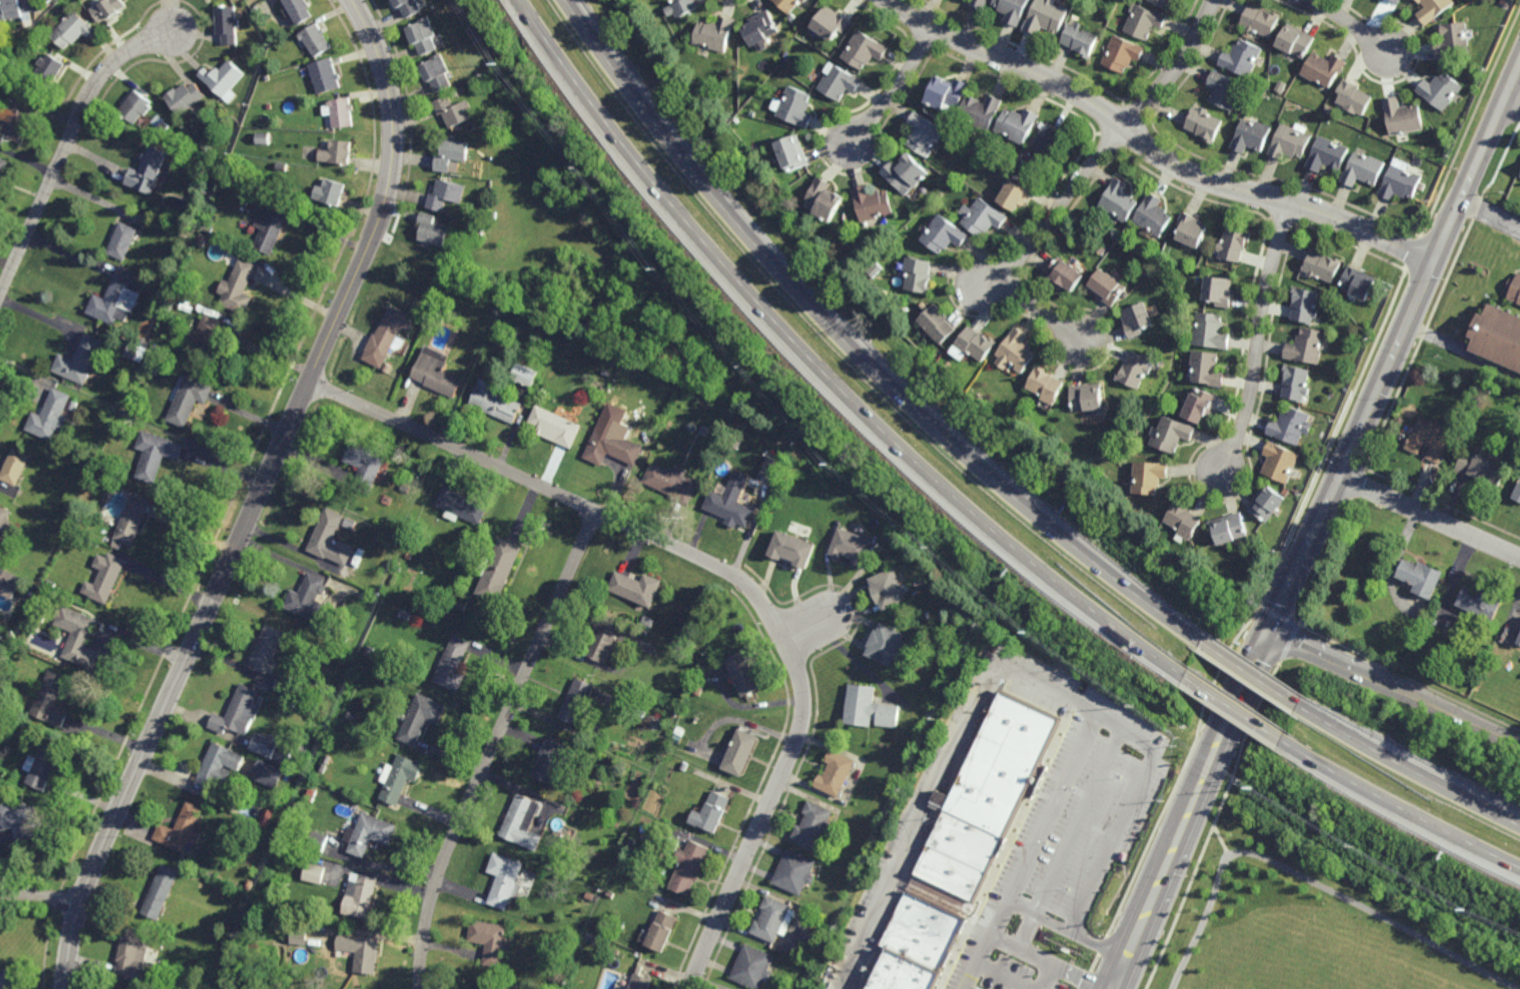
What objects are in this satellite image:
building: (1397, 1)
building: (254, 2)
building: (792, 4)
building: (979, 4)
building: (1163, 4)
building: (408, 7)
building: (682, 7)
building: (19, 8)
building: (1434, 9)
building: (109, 10)
building: (1012, 10)
building: (299, 11)
building: (792, 18)
building: (1046, 18)
building: (1261, 22)
road: (1350, 22)
building: (1145, 23)
building: (831, 24)
building: (228, 25)
building: (73, 30)
building: (761, 30)
building: (715, 34)
building: (424, 37)
building: (480, 40)
building: (316, 41)
building: (1079, 41)
building: (1453, 41)
building: (1296, 42)
building: (866, 51)
building: (1123, 55)
building: (1243, 59)
building: (786, 64)
power tower: (502, 67)
building: (1324, 70)
building: (49, 71)
building: (437, 74)
building: (326, 77)
building: (225, 79)
building: (840, 83)
building: (1283, 88)
road: (897, 89)
building: (1225, 91)
building: (1441, 91)
building: (455, 93)
building: (947, 95)
building: (1354, 99)
building: (185, 100)
road: (1511, 103)
building: (271, 107)
building: (136, 108)
building: (796, 108)
building: (1331, 111)
building: (453, 112)
building: (980, 113)
building: (342, 114)
building: (752, 115)
building: (1403, 119)
building: (15, 120)
building: (738, 121)
building: (1205, 125)
building: (1017, 127)
building: (164, 128)
building: (925, 135)
building: (1253, 138)
building: (266, 140)
road: (65, 144)
building: (1290, 144)
road: (1106, 145)
road: (1151, 150)
building: (974, 153)
building: (758, 154)
building: (338, 155)
building: (794, 155)
building: (451, 156)
building: (1043, 156)
building: (1328, 157)
building: (3, 167)
building: (151, 170)
building: (1363, 171)
building: (908, 175)
building: (1400, 181)
building: (925, 189)
building: (333, 190)
building: (1016, 192)
building: (446, 193)
building: (826, 198)
building: (1119, 200)
building: (874, 205)
building: (982, 215)
building: (1154, 215)
building: (166, 218)
road: (1488, 218)
building: (273, 226)
building: (1192, 228)
building: (432, 229)
building: (479, 231)
building: (945, 232)
building: (190, 233)
building: (1126, 235)
building: (124, 239)
building: (1234, 243)
building: (1101, 249)
building: (1321, 265)
building: (1149, 266)
building: (877, 269)
power tower: (663, 270)
building: (920, 273)
building: (1064, 273)
building: (1358, 281)
building: (240, 286)
building: (1106, 286)
building: (1515, 288)
building: (1219, 290)
building: (115, 299)
building: (1304, 304)
building: (206, 307)
road: (1035, 309)
building: (485, 311)
building: (1137, 318)
building: (937, 322)
building: (1211, 330)
building: (1499, 334)
road: (1259, 335)
building: (386, 337)
building: (209, 341)
building: (973, 343)
road: (1396, 344)
building: (1307, 345)
road: (854, 348)
building: (536, 350)
building: (1016, 350)
road: (1462, 352)
building: (82, 359)
building: (152, 365)
building: (386, 367)
road: (821, 367)
building: (1207, 368)
building: (1134, 369)
building: (436, 372)
building: (607, 373)
building: (525, 374)
building: (1296, 383)
building: (1045, 384)
building: (1471, 393)
building: (1087, 396)
building: (978, 397)
building: (189, 399)
building: (495, 401)
building: (1200, 404)
building: (73, 406)
building: (52, 416)
building: (557, 425)
building: (1291, 425)
building: (119, 426)
building: (1172, 434)
building: (1430, 438)
building: (613, 447)
building: (156, 455)
building: (1280, 462)
building: (365, 465)
building: (1483, 465)
building: (16, 466)
power tower: (835, 466)
building: (771, 468)
building: (342, 476)
building: (1149, 476)
building: (672, 482)
building: (406, 489)
building: (1517, 494)
road: (257, 496)
building: (732, 502)
building: (1267, 503)
building: (462, 506)
road: (1431, 517)
building: (1184, 519)
building: (134, 520)
building: (6, 522)
building: (1230, 528)
building: (330, 539)
building: (118, 545)
building: (852, 546)
building: (414, 548)
building: (793, 549)
road: (1393, 561)
building: (500, 570)
road: (730, 571)
building: (106, 577)
building: (1421, 577)
building: (9, 583)
building: (52, 584)
building: (637, 588)
building: (889, 589)
building: (312, 602)
building: (1480, 603)
building: (39, 614)
road: (1277, 617)
building: (648, 621)
road: (804, 628)
traffic signals: (1273, 630)
building: (646, 632)
power tower: (1031, 634)
building: (79, 637)
building: (605, 641)
road: (1288, 642)
building: (1519, 642)
building: (886, 645)
building: (1, 647)
building: (1411, 647)
building: (266, 649)
building: (370, 651)
building: (453, 665)
road: (1250, 672)
building: (744, 674)
road: (1025, 676)
building: (368, 682)
building: (282, 684)
road: (1396, 687)
building: (52, 701)
building: (579, 701)
road: (1232, 706)
building: (871, 709)
building: (237, 713)
building: (419, 718)
building: (679, 731)
building: (302, 745)
road: (494, 745)
building: (273, 749)
building: (739, 753)
building: (550, 762)
building: (45, 765)
building: (684, 766)
building: (219, 767)
road: (1407, 767)
building: (258, 768)
building: (322, 768)
building: (836, 774)
building: (400, 779)
building: (853, 782)
power tower: (1260, 790)
building: (310, 795)
building: (986, 796)
road: (1398, 805)
road: (1180, 806)
road: (1200, 809)
road: (1127, 811)
building: (713, 812)
building: (19, 819)
building: (264, 822)
road: (1077, 822)
building: (522, 823)
building: (812, 824)
road: (1213, 824)
building: (183, 829)
building: (830, 831)
building: (369, 834)
building: (318, 841)
road: (1221, 841)
building: (632, 842)
building: (315, 860)
building: (689, 866)
building: (794, 871)
building: (313, 873)
building: (550, 878)
building: (504, 879)
road: (1310, 880)
building: (249, 884)
building: (161, 891)
building: (610, 894)
road: (41, 896)
building: (360, 896)
power tower: (1472, 909)
park: (1313, 915)
building: (773, 918)
building: (662, 930)
road: (1026, 932)
road: (1073, 933)
building: (298, 935)
building: (591, 937)
building: (490, 940)
building: (917, 944)
building: (360, 952)
building: (822, 952)
building: (133, 953)
road: (1047, 962)
building: (752, 967)
building: (7, 977)
road: (1048, 977)
road: (1001, 978)
building: (640, 982)
building: (487, 986)
building: (506, 986)
building: (514, 986)
building: (495, 988)

